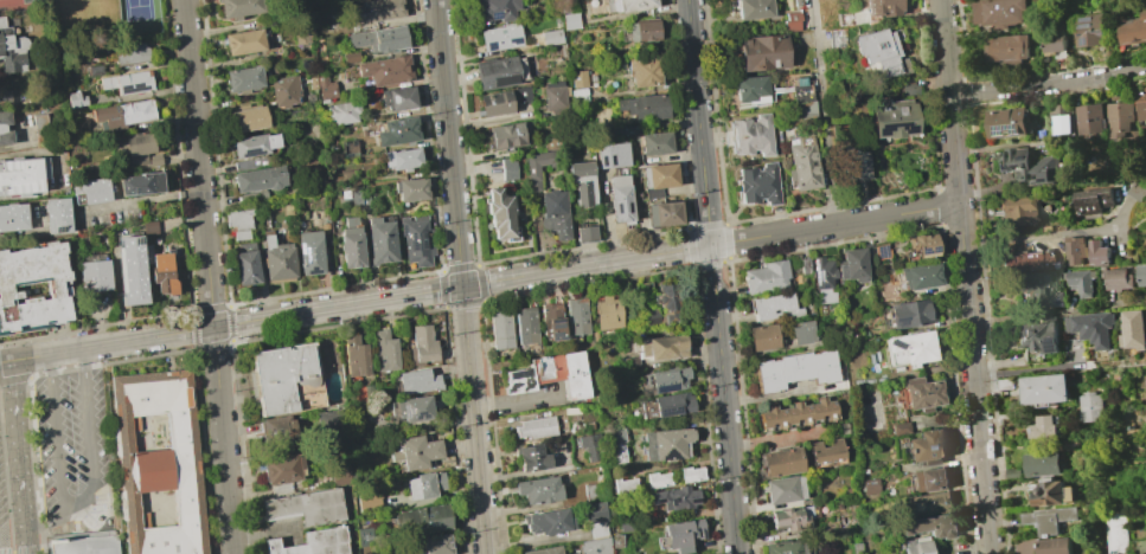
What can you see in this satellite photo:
park: (32, 1)
building: (628, 5)
building: (881, 7)
building: (237, 8)
building: (753, 8)
building: (374, 11)
building: (497, 11)
building: (999, 11)
rooftop solar panel: (495, 13)
park: (137, 15)
park: (96, 21)
building: (570, 21)
building: (790, 21)
building: (641, 30)
building: (1093, 30)
building: (1133, 30)
building: (499, 37)
building: (551, 37)
building: (378, 39)
rooftop solar panel: (516, 39)
building: (1056, 39)
building: (242, 41)
rooftop solar panel: (489, 44)
building: (1007, 47)
building: (9, 50)
building: (879, 52)
rooftop solar panel: (1090, 52)
building: (761, 53)
building: (129, 54)
building: (348, 56)
building: (91, 70)
building: (386, 70)
building: (642, 72)
building: (497, 73)
building: (242, 78)
building: (577, 78)
building: (126, 82)
road: (1049, 84)
building: (324, 88)
building: (750, 89)
building: (283, 91)
building: (553, 96)
building: (398, 98)
building: (72, 99)
building: (500, 101)
building: (1141, 103)
building: (642, 107)
building: (805, 110)
building: (341, 112)
road: (826, 112)
building: (122, 114)
building: (247, 117)
building: (892, 118)
building: (1093, 118)
building: (1063, 120)
building: (1122, 121)
road: (698, 122)
building: (1009, 122)
building: (1, 128)
building: (397, 131)
rooftop solar panel: (885, 134)
rooftop solar panel: (909, 134)
building: (505, 136)
building: (751, 136)
building: (136, 142)
building: (654, 142)
road: (448, 143)
building: (251, 144)
building: (612, 155)
building: (402, 159)
building: (854, 162)
road: (198, 163)
building: (251, 163)
building: (802, 163)
building: (1026, 166)
building: (507, 168)
building: (20, 176)
building: (258, 179)
building: (532, 179)
building: (657, 179)
building: (582, 182)
building: (139, 183)
building: (757, 183)
building: (410, 189)
building: (88, 192)
building: (1133, 192)
building: (252, 197)
building: (620, 199)
building: (1090, 200)
building: (1016, 208)
building: (553, 213)
building: (661, 213)
building: (500, 214)
building: (55, 215)
building: (11, 217)
building: (238, 223)
road: (834, 225)
rooftop solar panel: (57, 226)
building: (585, 233)
road: (1054, 236)
rooftop solar panel: (137, 238)
building: (416, 239)
building: (379, 240)
building: (922, 245)
building: (351, 247)
building: (1074, 250)
building: (308, 252)
building: (879, 252)
building: (1099, 253)
building: (277, 259)
building: (1022, 259)
building: (851, 265)
building: (245, 266)
road: (585, 266)
rooftop solar panel: (310, 269)
building: (130, 271)
building: (162, 273)
building: (1141, 273)
building: (94, 276)
building: (766, 276)
building: (920, 276)
road: (965, 277)
building: (1116, 278)
building: (822, 279)
rooftop solar panel: (1045, 279)
building: (1083, 282)
building: (33, 286)
traffic signals: (461, 288)
building: (1039, 288)
building: (667, 303)
building: (770, 305)
road: (337, 308)
road: (1057, 309)
building: (606, 313)
building: (910, 314)
building: (576, 316)
building: (649, 316)
building: (551, 321)
rooftop solar panel: (553, 324)
building: (525, 326)
building: (1091, 327)
road: (24, 329)
building: (499, 329)
building: (1132, 330)
rooftop solar panel: (556, 333)
building: (801, 333)
building: (763, 336)
building: (1039, 336)
road: (50, 342)
building: (423, 343)
road: (111, 344)
road: (197, 347)
building: (660, 347)
building: (911, 347)
building: (384, 348)
rooftop solar panel: (1051, 348)
building: (354, 356)
road: (84, 359)
road: (127, 360)
road: (5, 361)
road: (52, 363)
building: (794, 369)
road: (1026, 371)
building: (549, 374)
road: (14, 379)
building: (284, 380)
building: (667, 380)
building: (416, 381)
rooftop solar panel: (664, 387)
building: (1044, 388)
building: (921, 394)
road: (723, 399)
road: (516, 402)
building: (672, 405)
building: (1089, 407)
rooftop solar panel: (405, 408)
building: (412, 408)
building: (796, 413)
rooftop solar panel: (418, 415)
road: (473, 420)
building: (329, 421)
building: (533, 429)
building: (899, 429)
building: (1042, 429)
building: (276, 431)
road: (223, 440)
building: (614, 443)
road: (18, 444)
building: (665, 444)
building: (587, 445)
building: (926, 447)
building: (415, 452)
building: (825, 452)
parking lot: (75, 453)
rooftop solar panel: (670, 455)
building: (529, 459)
building: (159, 462)
building: (780, 462)
building: (1039, 465)
building: (283, 469)
building: (339, 475)
building: (691, 475)
building: (658, 479)
building: (930, 479)
building: (423, 485)
building: (623, 485)
building: (870, 487)
building: (783, 489)
building: (537, 490)
building: (593, 491)
building: (1051, 494)
building: (676, 497)
building: (929, 503)
building: (380, 504)
building: (305, 507)
road: (81, 508)
building: (593, 513)
building: (786, 517)
building: (1048, 518)
building: (422, 521)
road: (59, 522)
building: (548, 522)
building: (931, 526)
road: (33, 527)
building: (597, 529)
building: (1116, 533)
building: (681, 534)
building: (365, 536)
road: (26, 540)
building: (615, 540)
building: (312, 542)
building: (436, 545)
building: (83, 546)
building: (596, 546)
building: (916, 546)
building: (1041, 546)
building: (781, 547)
road: (13, 550)
road: (36, 550)
building: (543, 550)

